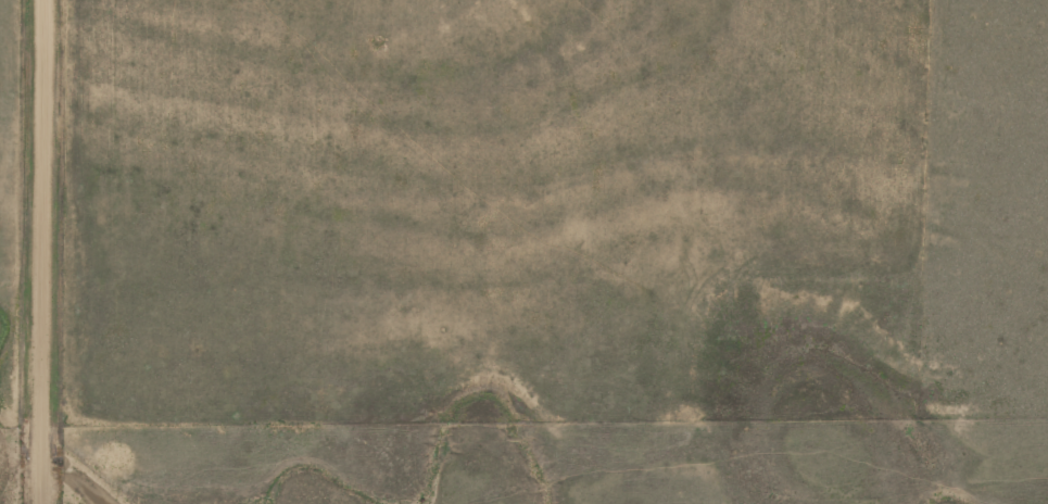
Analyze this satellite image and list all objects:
road: (45, 252)

